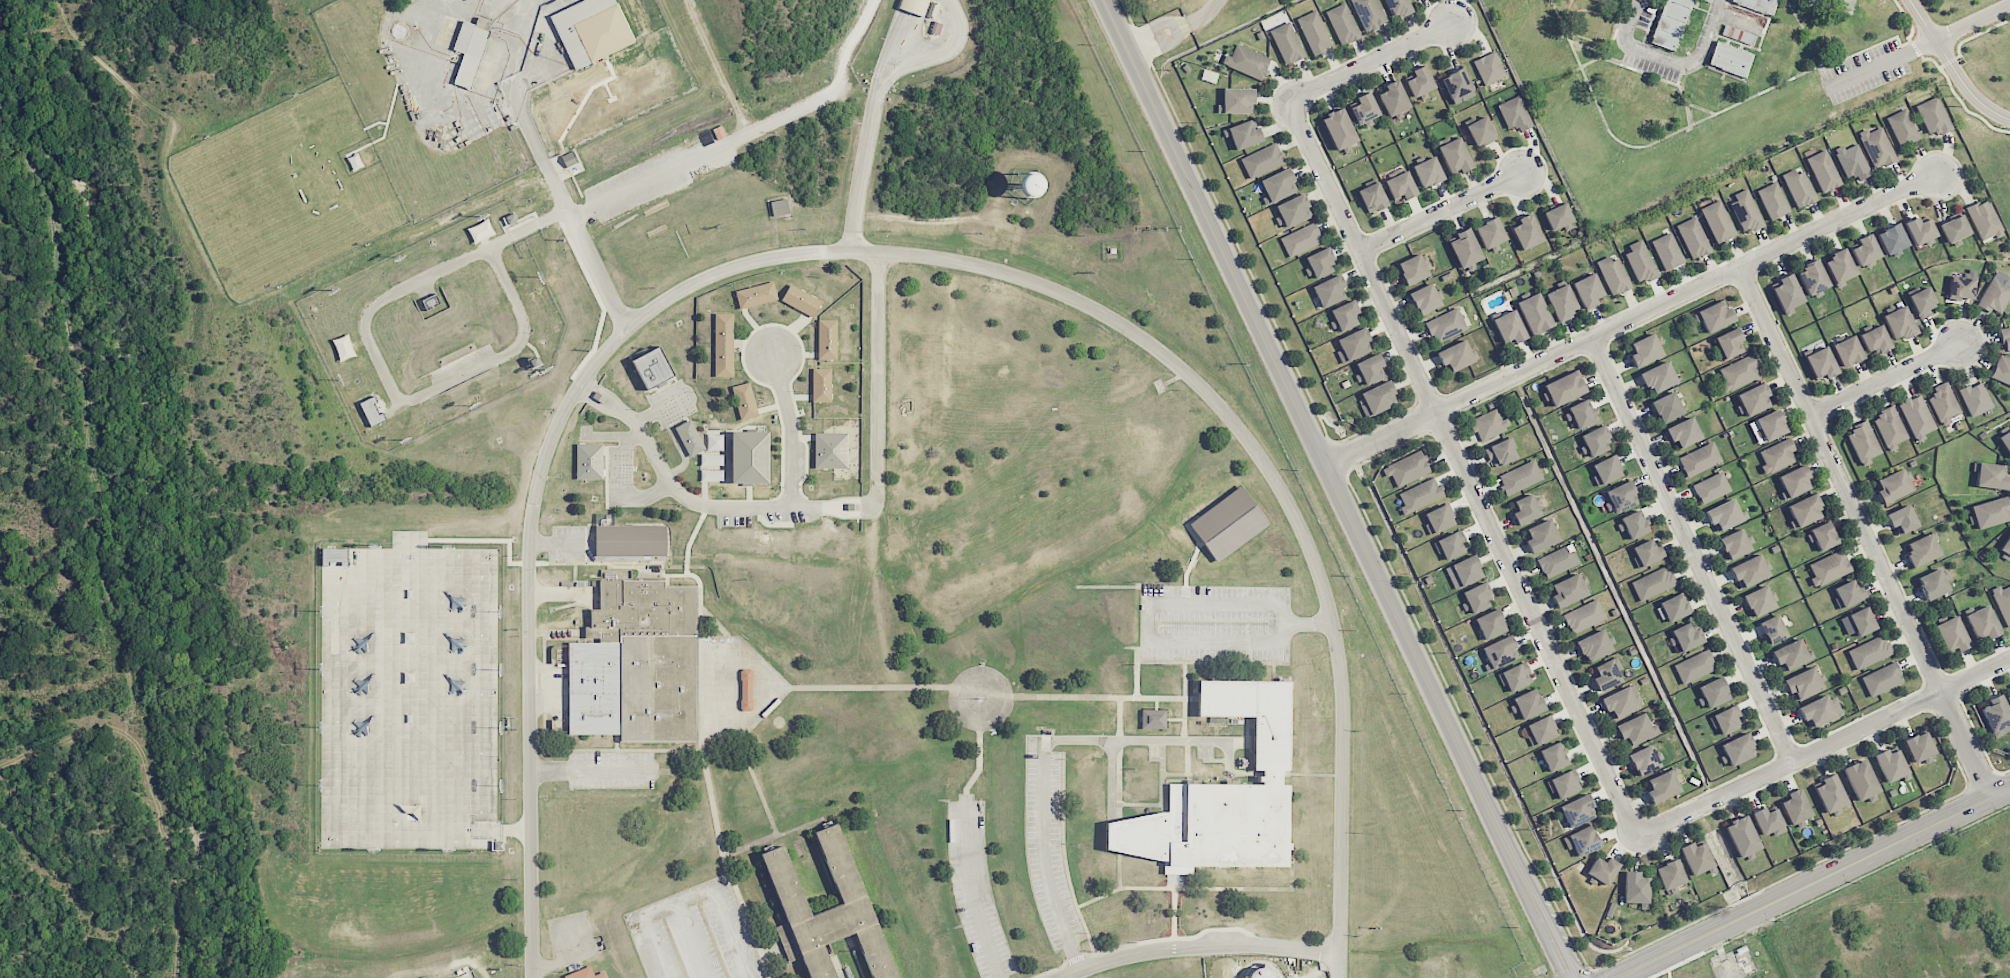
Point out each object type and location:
building: (1812, 1)
road: (1844, 4)
building: (1758, 5)
building: (914, 6)
building: (1399, 7)
road: (1205, 14)
building: (1369, 14)
building: (1593, 21)
building: (1670, 23)
building: (1343, 24)
road: (1154, 27)
building: (591, 30)
building: (1314, 32)
building: (1287, 43)
road: (850, 46)
road: (1163, 46)
road: (948, 49)
building: (1780, 49)
building: (470, 50)
building: (1730, 59)
road: (1670, 60)
road: (1370, 61)
building: (1247, 62)
building: (1489, 68)
road: (1952, 68)
building: (1420, 81)
building: (1458, 86)
building: (1707, 90)
building: (1640, 93)
road: (1817, 96)
building: (1394, 98)
building: (1237, 101)
building: (1365, 107)
building: (1515, 114)
building: (1933, 116)
road: (873, 122)
building: (1903, 127)
building: (1339, 129)
building: (1481, 132)
building: (1245, 134)
road: (535, 137)
building: (1877, 147)
building: (1455, 156)
building: (1263, 160)
building: (1852, 161)
building: (1824, 171)
building: (1428, 172)
road: (651, 183)
building: (1278, 186)
building: (1400, 186)
building: (1799, 188)
building: (1373, 197)
building: (1773, 201)
building: (779, 207)
building: (1294, 210)
road: (1441, 211)
building: (1746, 211)
building: (1558, 216)
building: (1983, 220)
building: (1718, 221)
building: (1953, 229)
building: (1919, 230)
building: (1527, 232)
building: (1491, 233)
building: (1693, 237)
building: (1301, 239)
building: (1892, 239)
building: (1465, 248)
building: (1866, 250)
building: (1667, 251)
road: (898, 252)
building: (1640, 262)
building: (1320, 263)
building: (1840, 266)
building: (1413, 269)
building: (1613, 275)
building: (1813, 278)
building: (1961, 288)
building: (1588, 290)
building: (1330, 291)
building: (1787, 292)
building: (1996, 293)
building: (756, 295)
building: (1425, 299)
building: (801, 300)
building: (1562, 302)
building: (1922, 302)
building: (1535, 313)
building: (1344, 316)
building: (1715, 316)
road: (1631, 317)
building: (1899, 323)
building: (1446, 325)
building: (1509, 328)
building: (2006, 338)
building: (827, 339)
building: (1875, 340)
building: (1729, 343)
building: (723, 345)
building: (1353, 345)
building: (1645, 350)
building: (1847, 351)
building: (1456, 356)
building: (1821, 364)
building: (653, 368)
building: (1369, 369)
building: (2002, 370)
building: (1738, 373)
building: (1658, 377)
road: (1886, 378)
building: (821, 385)
road: (438, 387)
building: (1565, 388)
building: (1378, 399)
building: (1754, 399)
building: (1975, 399)
building: (745, 401)
building: (1944, 403)
building: (1667, 407)
building: (372, 411)
building: (1582, 413)
building: (1917, 417)
building: (1489, 424)
building: (1767, 427)
building: (1890, 428)
road: (791, 429)
building: (1684, 432)
building: (689, 438)
building: (1596, 441)
building: (2005, 441)
building: (1864, 442)
building: (830, 450)
building: (1501, 452)
building: (1777, 456)
building: (749, 457)
building: (1699, 459)
building: (589, 461)
building: (711, 468)
building: (1407, 469)
road: (1461, 469)
building: (1607, 470)
building: (1991, 476)
building: (1520, 477)
building: (1794, 482)
building: (1893, 486)
road: (1339, 488)
building: (1711, 488)
building: (1420, 495)
building: (1622, 497)
road: (825, 508)
building: (1525, 510)
building: (1804, 511)
building: (1990, 512)
building: (1724, 515)
building: (1439, 519)
building: (1902, 519)
building: (1228, 523)
building: (1634, 524)
road: (1865, 531)
building: (1541, 536)
building: (1824, 536)
building: (630, 540)
building: (1736, 544)
building: (1450, 546)
building: (2005, 548)
road: (1693, 549)
building: (1923, 549)
building: (1647, 553)
building: (334, 556)
road: (1191, 562)
building: (1557, 562)
building: (1829, 568)
building: (1750, 571)
building: (1464, 572)
building: (1653, 583)
building: (1932, 584)
building: (1568, 591)
building: (1849, 593)
building: (1477, 597)
building: (1759, 601)
building: (2003, 602)
road: (1158, 606)
building: (1674, 607)
building: (1584, 616)
parking lot: (1215, 622)
building: (1982, 623)
building: (1490, 624)
building: (1772, 630)
building: (1952, 634)
building: (1685, 637)
building: (1594, 646)
building: (1500, 652)
building: (1869, 652)
building: (1791, 655)
road: (1211, 662)
building: (636, 664)
building: (1695, 666)
road: (1136, 673)
building: (1607, 674)
building: (1516, 677)
building: (1882, 679)
building: (1803, 684)
building: (1713, 693)
road: (1105, 696)
building: (2008, 697)
road: (1184, 700)
building: (1620, 702)
building: (1528, 704)
building: (1820, 710)
road: (1008, 713)
building: (1996, 715)
road: (1120, 718)
building: (1153, 719)
building: (1726, 720)
building: (1540, 730)
building: (1634, 730)
road: (1148, 739)
road: (1825, 746)
building: (1919, 746)
building: (1738, 749)
building: (1554, 757)
building: (1645, 760)
building: (1891, 765)
road: (979, 768)
road: (594, 770)
road: (1187, 770)
road: (1245, 773)
road: (1311, 774)
road: (1162, 775)
road: (1111, 777)
road: (1119, 779)
building: (1861, 779)
building: (1564, 784)
building: (1662, 787)
building: (1831, 793)
building: (1223, 794)
road: (1140, 804)
building: (1796, 807)
building: (1578, 811)
building: (1769, 821)
building: (954, 829)
road: (1062, 831)
building: (1743, 836)
building: (1581, 841)
parking lot: (1048, 849)
building: (1697, 857)
road: (1045, 864)
road: (1119, 870)
building: (1603, 870)
building: (1670, 874)
building: (846, 879)
road: (1815, 883)
road: (1204, 888)
building: (1636, 888)
parking lot: (976, 890)
road: (689, 893)
road: (974, 896)
road: (1174, 911)
road: (751, 928)
road: (1086, 930)
parking lot: (695, 935)
road: (690, 938)
road: (1173, 938)
road: (1196, 945)
building: (585, 974)
building: (423, 977)

